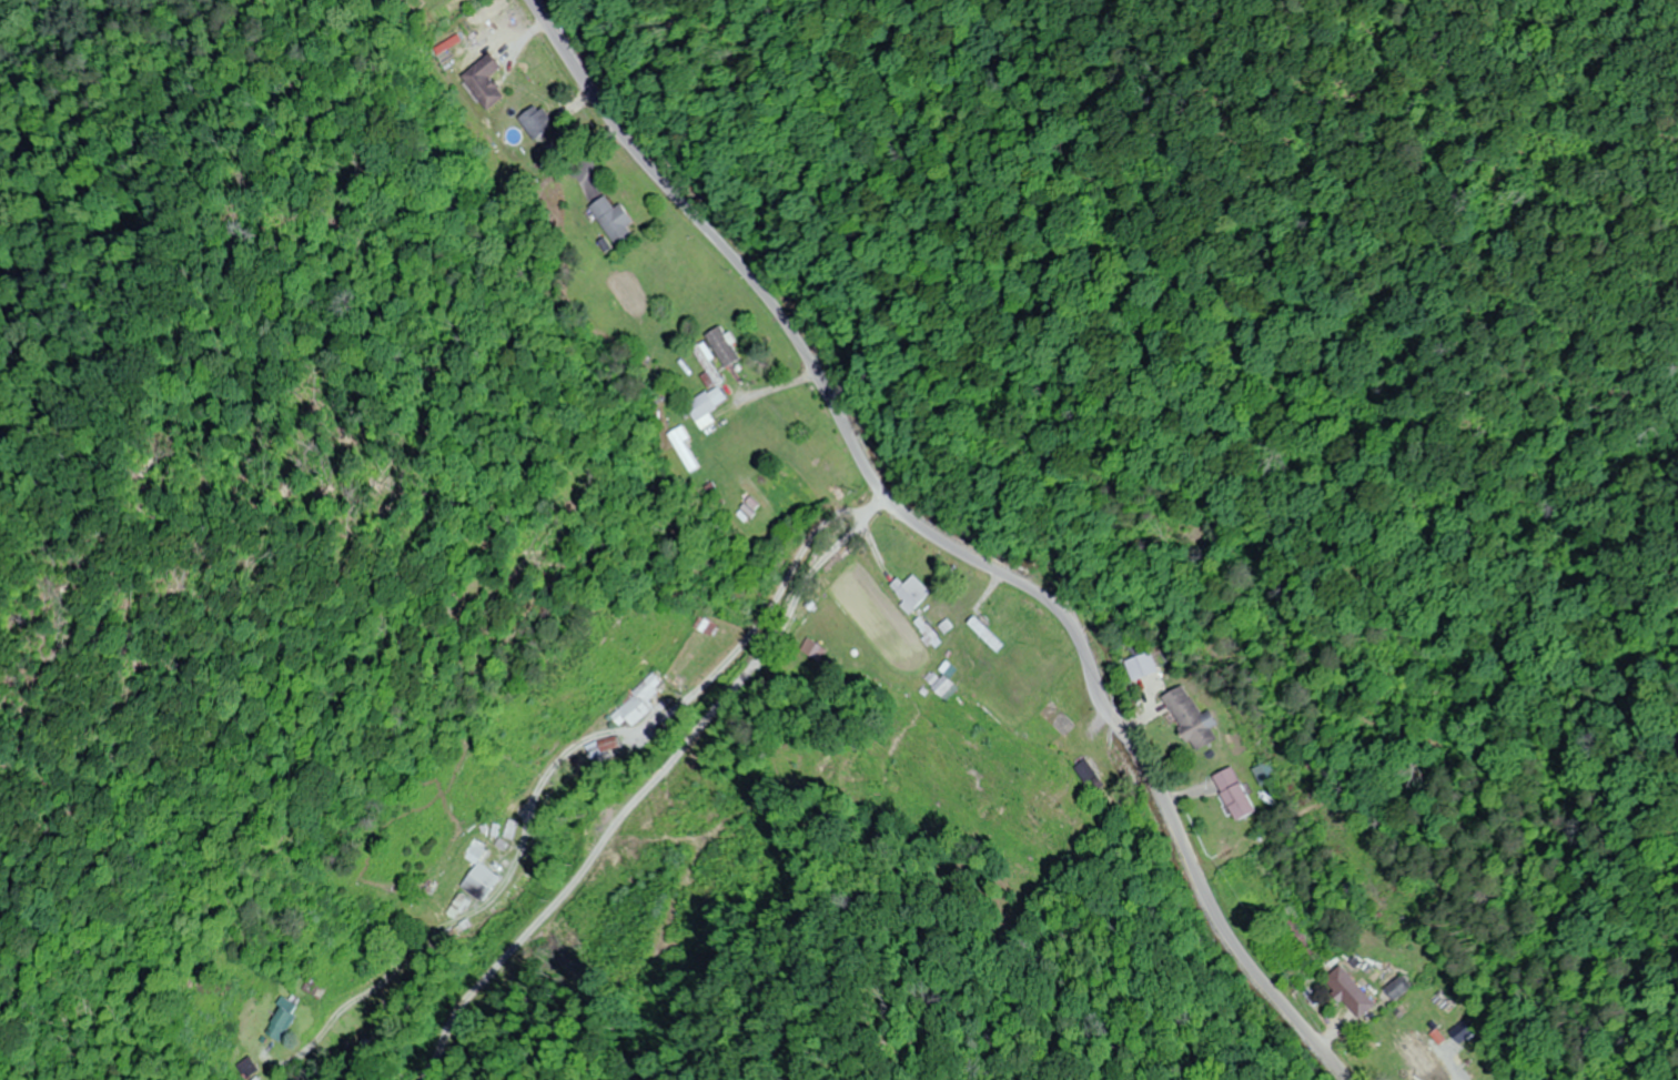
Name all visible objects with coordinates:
building: (491, 11)
building: (482, 80)
building: (535, 120)
building: (610, 219)
building: (722, 346)
building: (704, 404)
building: (681, 450)
road: (947, 542)
building: (909, 592)
building: (984, 634)
building: (1139, 645)
building: (1142, 665)
road: (689, 686)
building: (941, 687)
building: (633, 704)
building: (1191, 718)
building: (599, 746)
building: (1084, 771)
building: (1233, 794)
building: (477, 881)
building: (1297, 933)
building: (1394, 988)
building: (1348, 991)
building: (1415, 1041)

